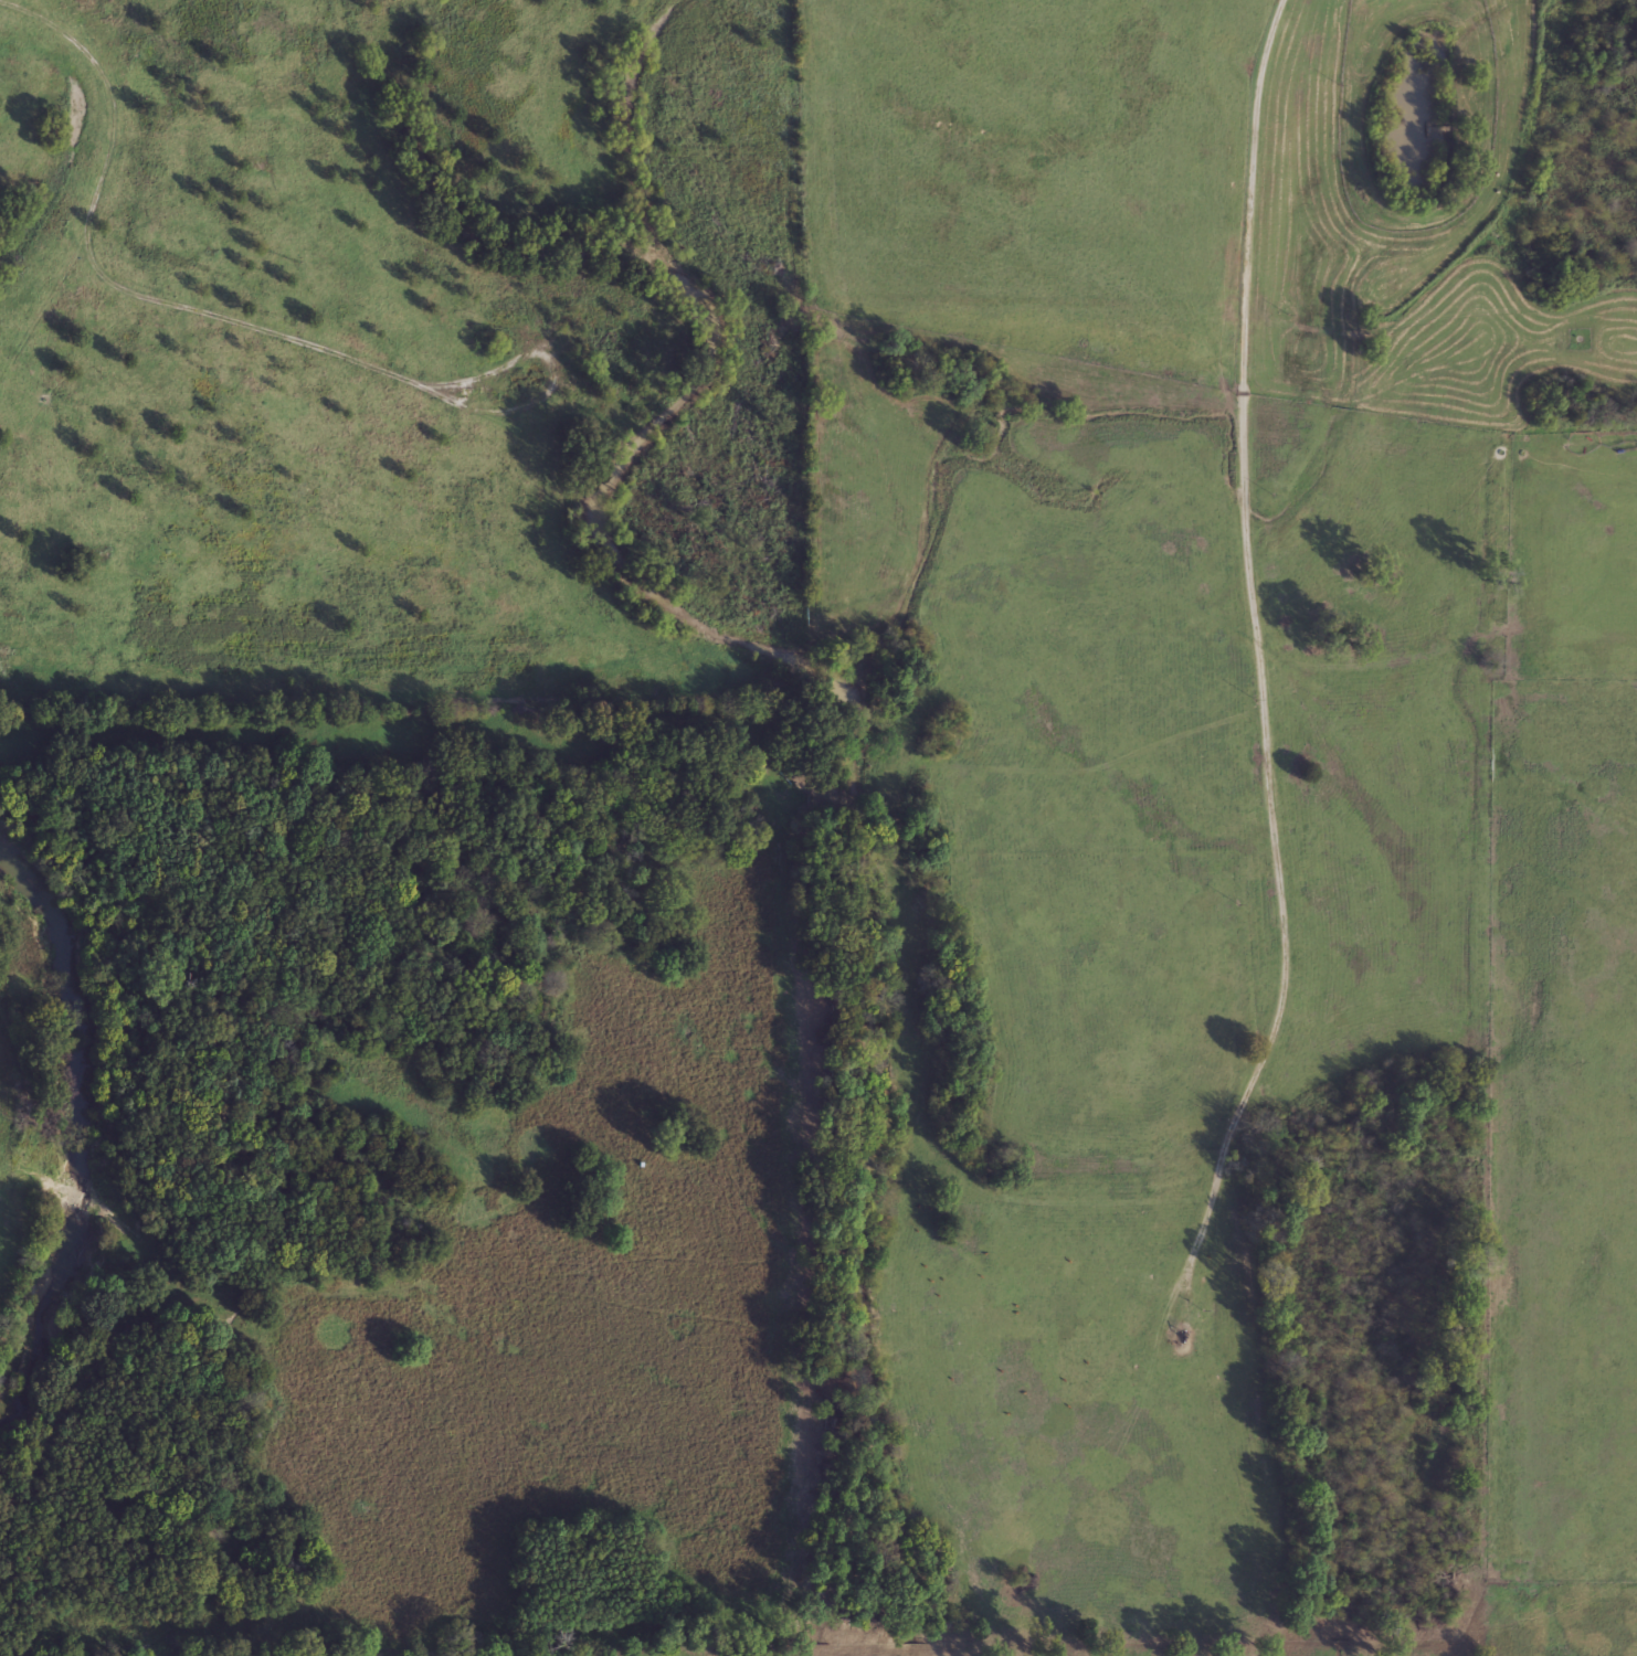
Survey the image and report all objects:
road: (1295, 677)

